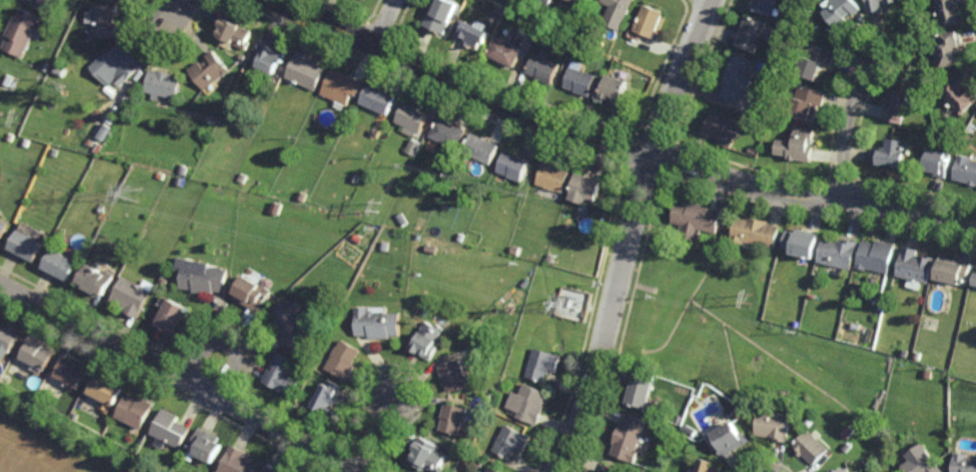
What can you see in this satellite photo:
building: (43, 1)
building: (584, 1)
building: (887, 1)
building: (763, 4)
building: (874, 4)
road: (173, 10)
building: (776, 10)
building: (841, 10)
building: (953, 10)
building: (618, 12)
building: (442, 14)
building: (105, 19)
building: (649, 20)
road: (386, 23)
building: (21, 30)
building: (543, 30)
building: (234, 31)
building: (473, 31)
building: (751, 31)
building: (576, 44)
building: (951, 46)
building: (505, 49)
building: (270, 52)
building: (241, 56)
building: (255, 57)
building: (815, 58)
building: (122, 60)
building: (543, 67)
building: (208, 69)
building: (305, 69)
building: (738, 75)
building: (8, 79)
building: (580, 80)
building: (162, 82)
building: (341, 86)
building: (618, 90)
building: (961, 91)
building: (378, 97)
building: (808, 101)
building: (898, 104)
building: (785, 109)
power tower: (24, 117)
building: (411, 117)
road: (847, 121)
building: (721, 128)
building: (449, 132)
building: (10, 136)
building: (956, 140)
building: (26, 141)
building: (797, 143)
road: (617, 144)
building: (98, 146)
building: (413, 146)
building: (482, 148)
building: (752, 150)
building: (54, 151)
building: (891, 152)
building: (935, 161)
building: (513, 165)
building: (183, 169)
building: (966, 169)
building: (161, 174)
building: (355, 176)
building: (553, 176)
building: (243, 177)
building: (181, 180)
building: (371, 182)
building: (586, 187)
power tower: (127, 191)
building: (277, 204)
power tower: (381, 205)
building: (696, 217)
building: (404, 220)
building: (491, 223)
building: (2, 226)
building: (756, 231)
road: (631, 234)
building: (461, 236)
building: (360, 237)
building: (802, 242)
building: (25, 245)
building: (386, 245)
building: (433, 248)
building: (515, 249)
building: (837, 252)
building: (876, 255)
building: (551, 258)
building: (767, 260)
building: (60, 264)
building: (915, 265)
building: (955, 270)
building: (204, 277)
building: (96, 278)
building: (164, 280)
building: (874, 281)
building: (975, 282)
building: (941, 286)
building: (252, 293)
building: (131, 296)
power tower: (752, 300)
power tower: (579, 305)
building: (171, 315)
building: (292, 323)
building: (379, 323)
building: (797, 323)
building: (856, 325)
building: (7, 338)
road: (227, 339)
building: (428, 341)
building: (905, 352)
building: (37, 354)
building: (918, 355)
building: (345, 359)
building: (541, 363)
building: (72, 372)
building: (929, 374)
building: (282, 375)
building: (456, 375)
road: (180, 378)
building: (106, 389)
building: (641, 390)
building: (330, 397)
building: (527, 402)
building: (135, 410)
building: (455, 418)
building: (679, 418)
building: (775, 425)
building: (171, 429)
road: (377, 432)
building: (691, 432)
building: (629, 437)
building: (729, 439)
building: (510, 440)
building: (206, 446)
building: (811, 447)
building: (847, 447)
building: (429, 456)
building: (479, 461)
building: (921, 461)
building: (239, 462)
building: (965, 463)
building: (710, 466)
building: (610, 468)
building: (272, 469)
building: (494, 470)
building: (841, 471)

